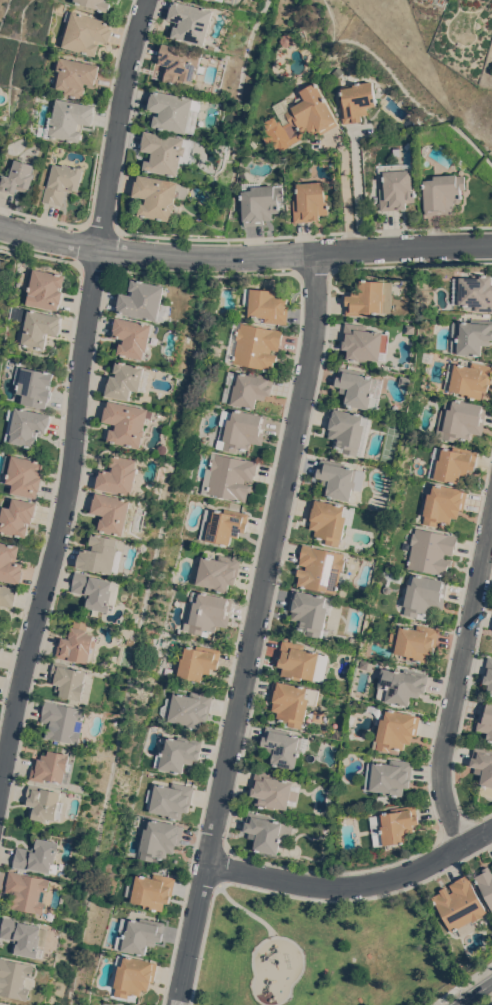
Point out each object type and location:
building: (222, 0)
building: (95, 4)
building: (190, 21)
building: (84, 31)
building: (284, 38)
building: (180, 63)
building: (336, 70)
building: (74, 75)
building: (356, 100)
building: (175, 111)
building: (299, 118)
building: (66, 120)
building: (254, 144)
building: (425, 148)
building: (167, 152)
building: (18, 177)
building: (62, 182)
building: (396, 186)
road: (356, 193)
building: (442, 193)
building: (159, 196)
building: (260, 201)
building: (310, 201)
road: (245, 254)
building: (44, 287)
building: (473, 292)
building: (370, 298)
building: (145, 301)
building: (267, 304)
building: (36, 324)
building: (411, 329)
building: (471, 336)
building: (133, 337)
building: (365, 343)
building: (253, 345)
building: (427, 356)
building: (468, 379)
building: (127, 380)
building: (405, 381)
building: (33, 385)
building: (246, 387)
building: (359, 387)
road: (78, 394)
building: (460, 419)
building: (127, 422)
building: (25, 425)
building: (240, 429)
building: (349, 430)
building: (165, 447)
building: (452, 462)
building: (23, 474)
building: (119, 475)
building: (230, 476)
building: (340, 478)
building: (444, 502)
building: (112, 512)
building: (17, 516)
building: (330, 519)
building: (223, 524)
building: (429, 550)
building: (101, 554)
building: (10, 562)
building: (321, 568)
building: (216, 571)
building: (391, 573)
building: (386, 588)
building: (96, 590)
building: (7, 595)
building: (424, 595)
building: (207, 612)
building: (310, 612)
road: (254, 629)
building: (415, 641)
building: (78, 643)
building: (198, 661)
building: (300, 661)
building: (108, 662)
building: (168, 671)
building: (488, 674)
building: (68, 679)
road: (457, 679)
building: (401, 685)
building: (293, 701)
building: (188, 708)
building: (318, 715)
building: (486, 719)
building: (63, 720)
building: (351, 720)
building: (394, 728)
building: (284, 747)
building: (177, 752)
building: (483, 764)
building: (53, 767)
building: (389, 776)
building: (274, 790)
building: (170, 799)
building: (45, 803)
building: (394, 825)
building: (267, 831)
building: (158, 838)
building: (39, 855)
road: (447, 859)
road: (221, 864)
road: (454, 871)
building: (486, 883)
road: (354, 884)
building: (151, 890)
building: (28, 891)
road: (274, 891)
building: (460, 905)
road: (245, 909)
building: (138, 934)
building: (25, 936)
park: (320, 951)
building: (132, 975)
building: (15, 977)
road: (463, 984)
road: (475, 993)
building: (1, 1004)
building: (106, 1004)
road: (491, 1004)

